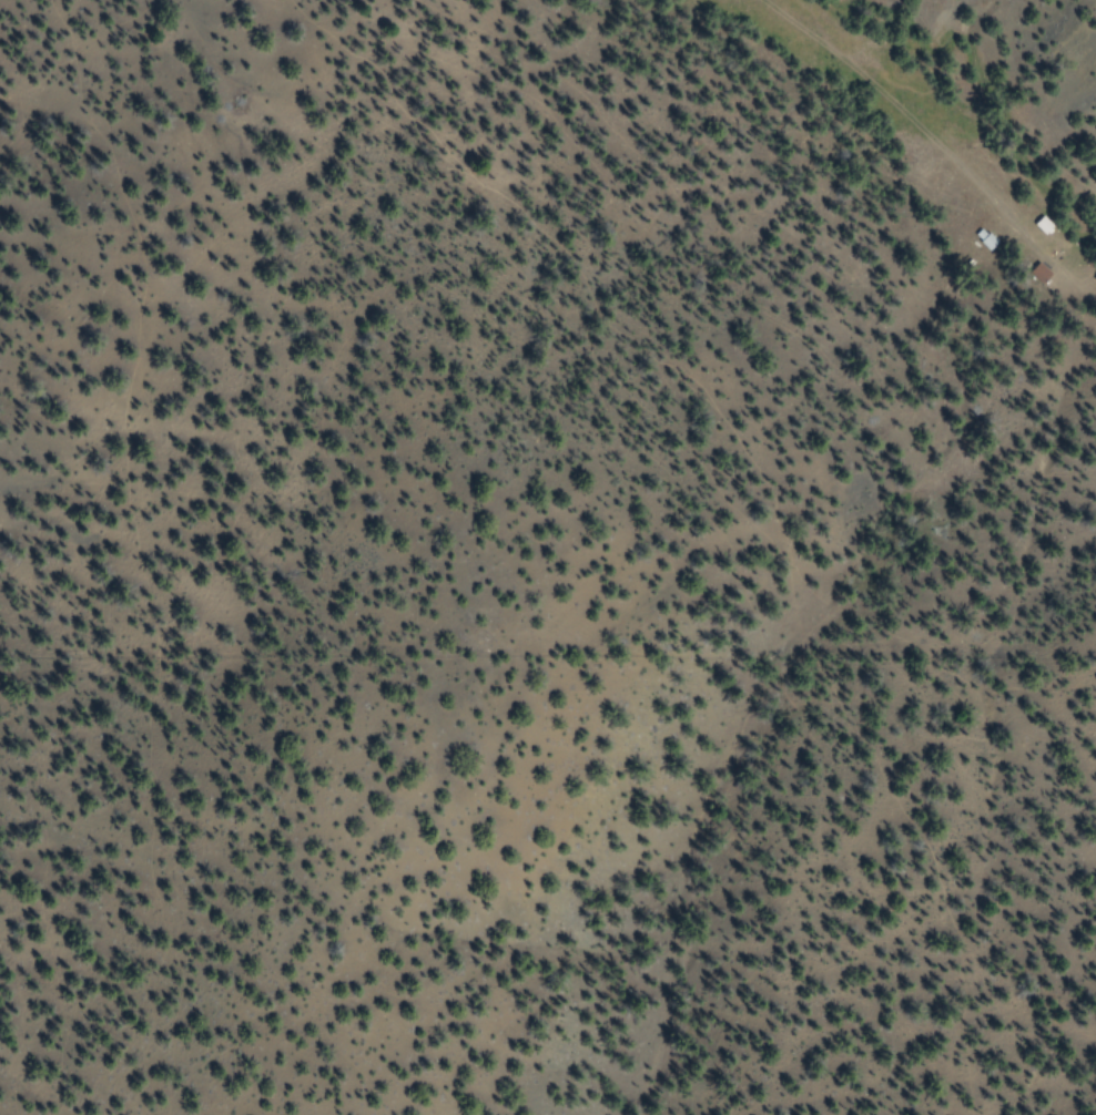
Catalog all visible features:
road: (922, 136)
building: (1044, 227)
building: (985, 241)

